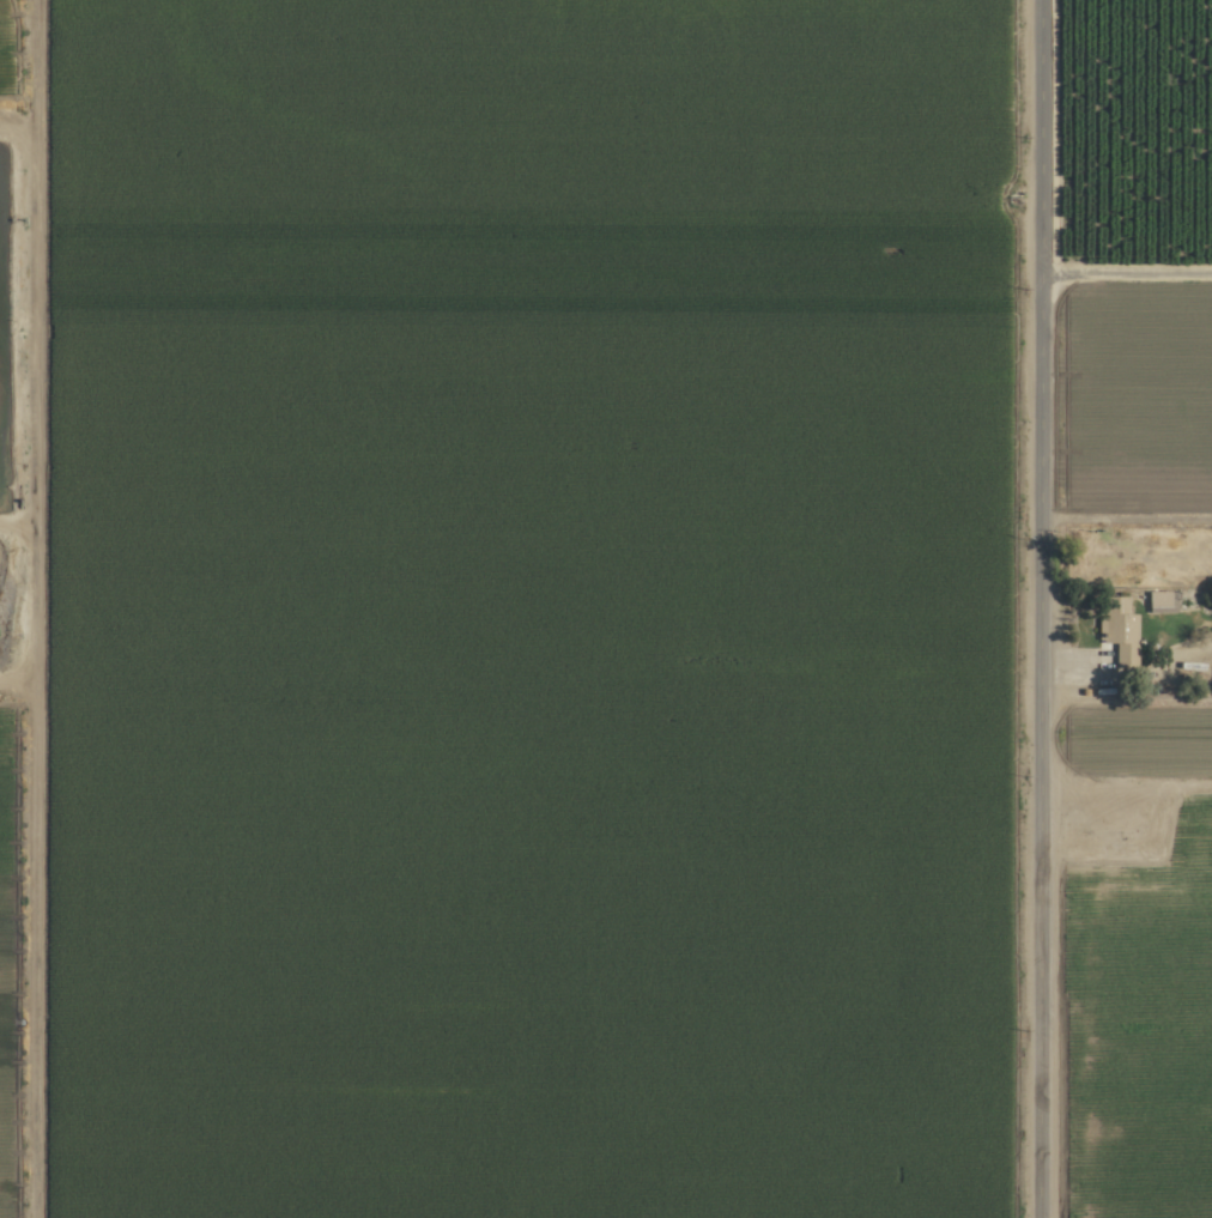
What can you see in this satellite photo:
building: (1153, 598)
road: (1038, 608)
building: (1113, 620)

